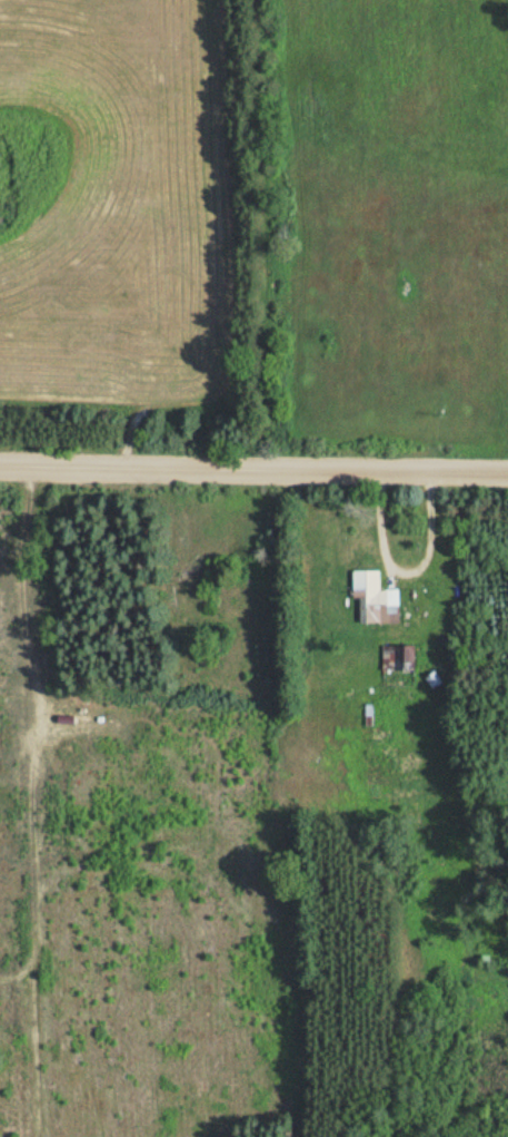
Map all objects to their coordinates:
road: (253, 470)
building: (371, 597)
building: (394, 656)

